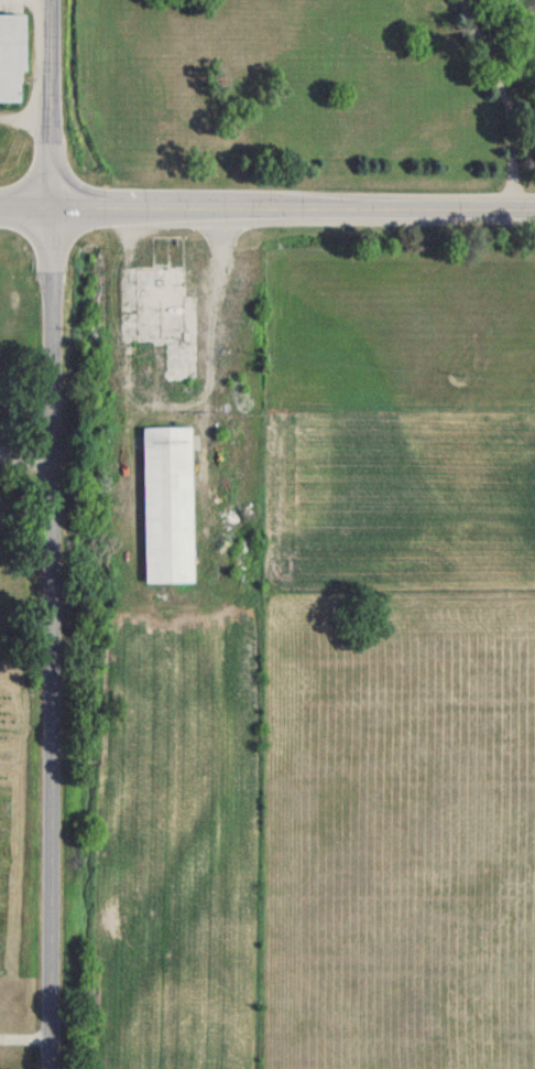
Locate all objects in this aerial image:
building: (12, 56)
road: (507, 102)
road: (57, 106)
road: (29, 109)
road: (266, 212)
building: (165, 317)
road: (167, 403)
road: (28, 455)
building: (170, 506)
road: (54, 639)
road: (24, 1043)

